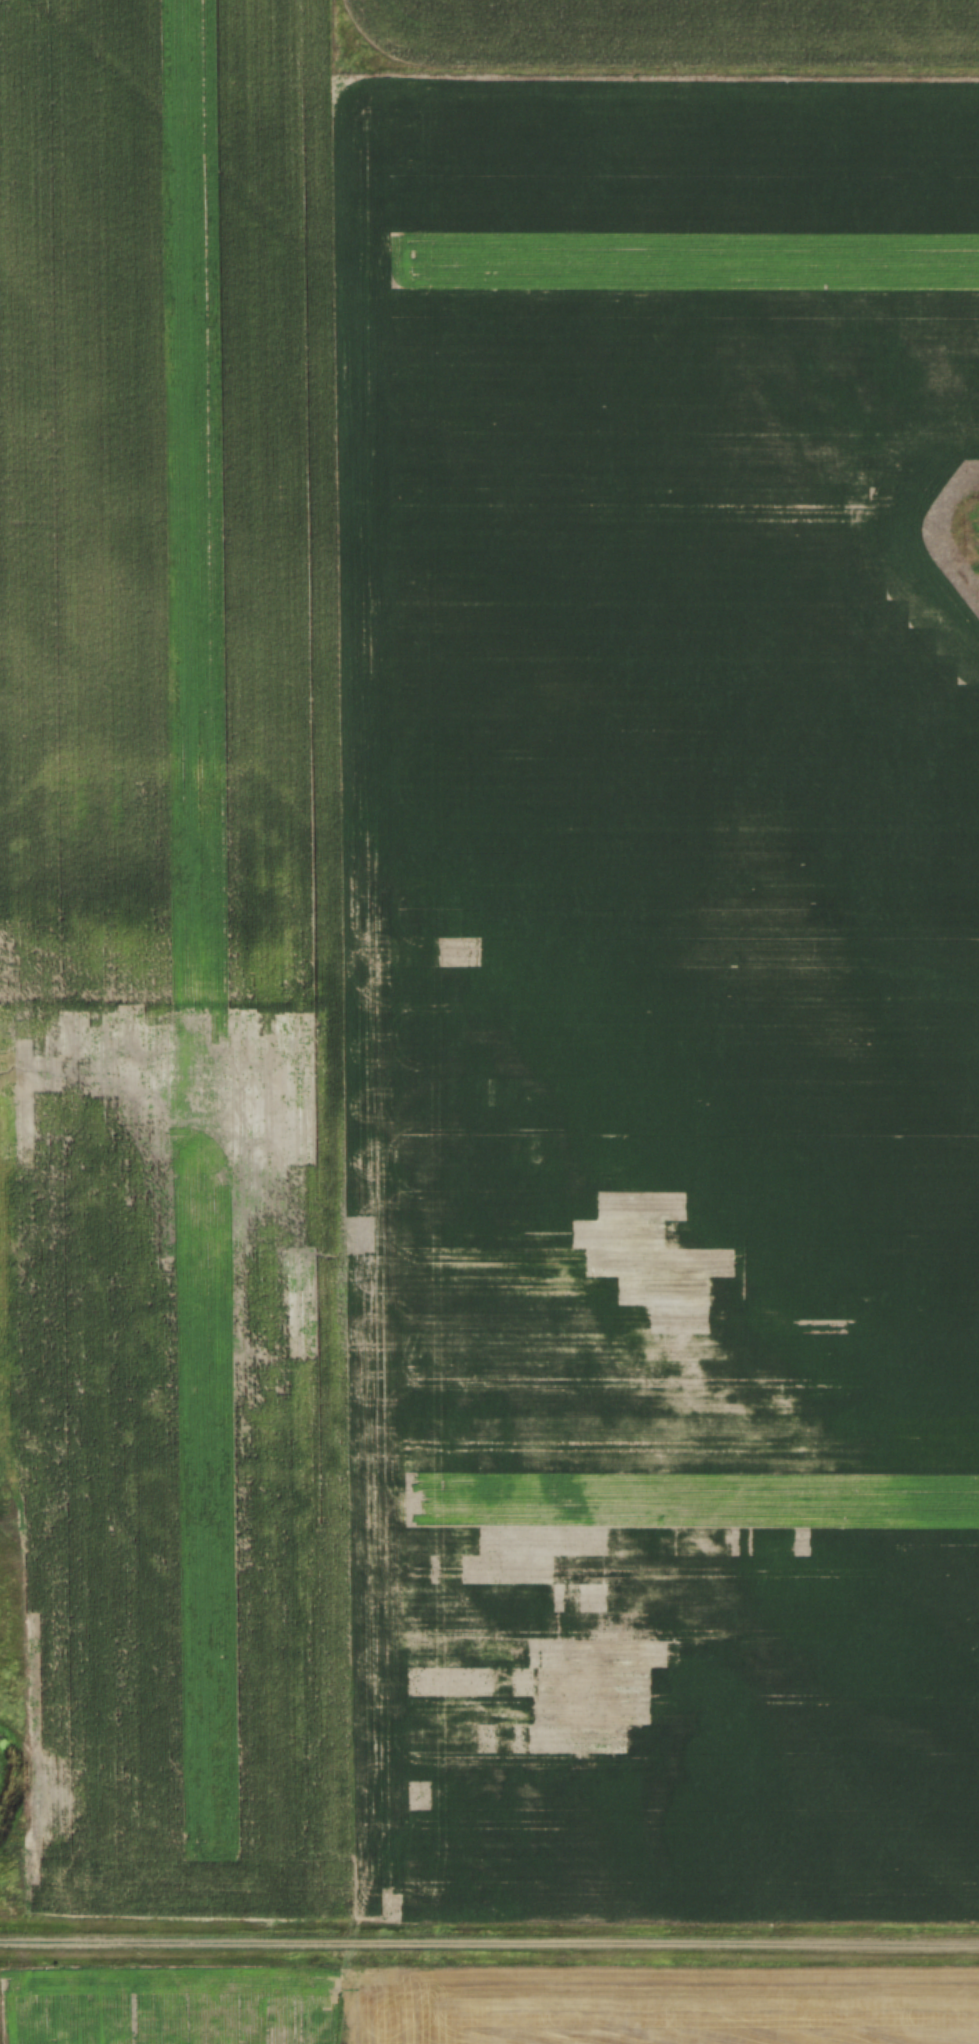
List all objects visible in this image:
road: (489, 1942)

